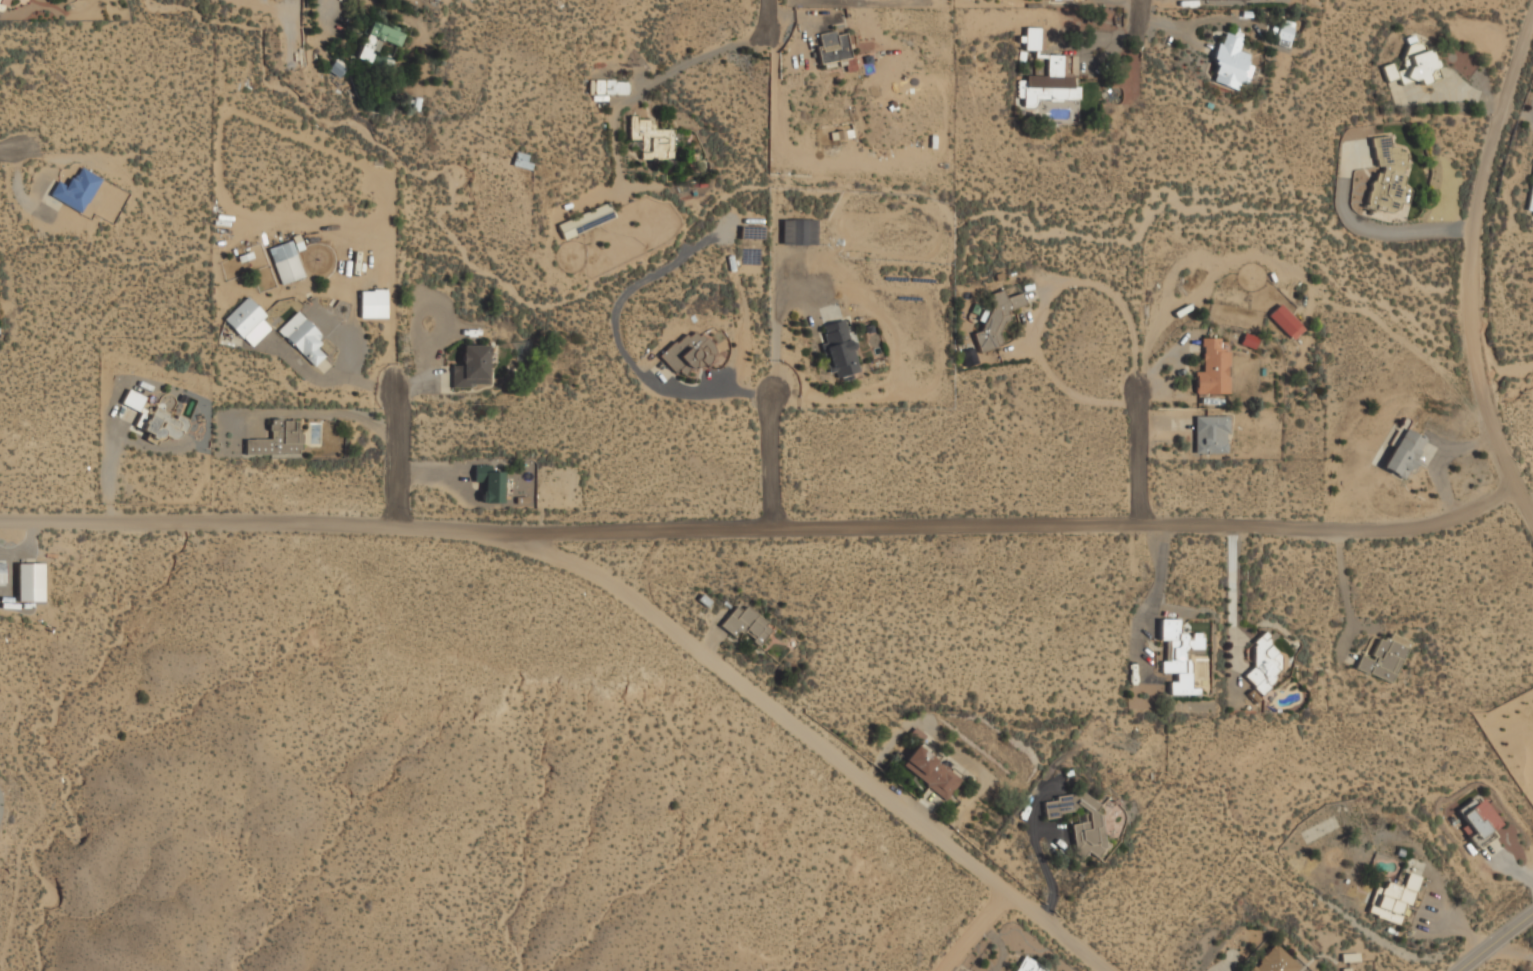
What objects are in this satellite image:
building: (1058, 0)
building: (1212, 0)
building: (1, 6)
road: (328, 12)
road: (1144, 13)
road: (770, 18)
building: (378, 45)
building: (832, 47)
building: (1230, 62)
building: (1413, 67)
building: (337, 68)
building: (1048, 75)
road: (652, 82)
building: (610, 88)
building: (652, 140)
road: (12, 150)
building: (521, 160)
building: (1388, 178)
building: (76, 191)
building: (1531, 201)
building: (586, 221)
building: (751, 233)
building: (798, 233)
road: (1470, 251)
building: (287, 263)
building: (372, 304)
road: (776, 308)
building: (996, 320)
building: (248, 322)
building: (1286, 322)
building: (302, 338)
building: (840, 350)
building: (688, 354)
building: (472, 368)
building: (1214, 369)
building: (155, 419)
building: (1212, 436)
building: (276, 440)
road: (1143, 451)
building: (1404, 454)
road: (401, 456)
road: (769, 459)
building: (490, 484)
road: (1524, 505)
road: (761, 524)
building: (2, 576)
building: (30, 583)
road: (1231, 608)
building: (745, 624)
building: (1179, 654)
building: (1385, 659)
building: (1264, 664)
road: (794, 723)
building: (931, 772)
building: (1480, 820)
building: (1088, 839)
building: (1394, 901)
road: (970, 927)
road: (1495, 940)
building: (1278, 961)
building: (1028, 966)

